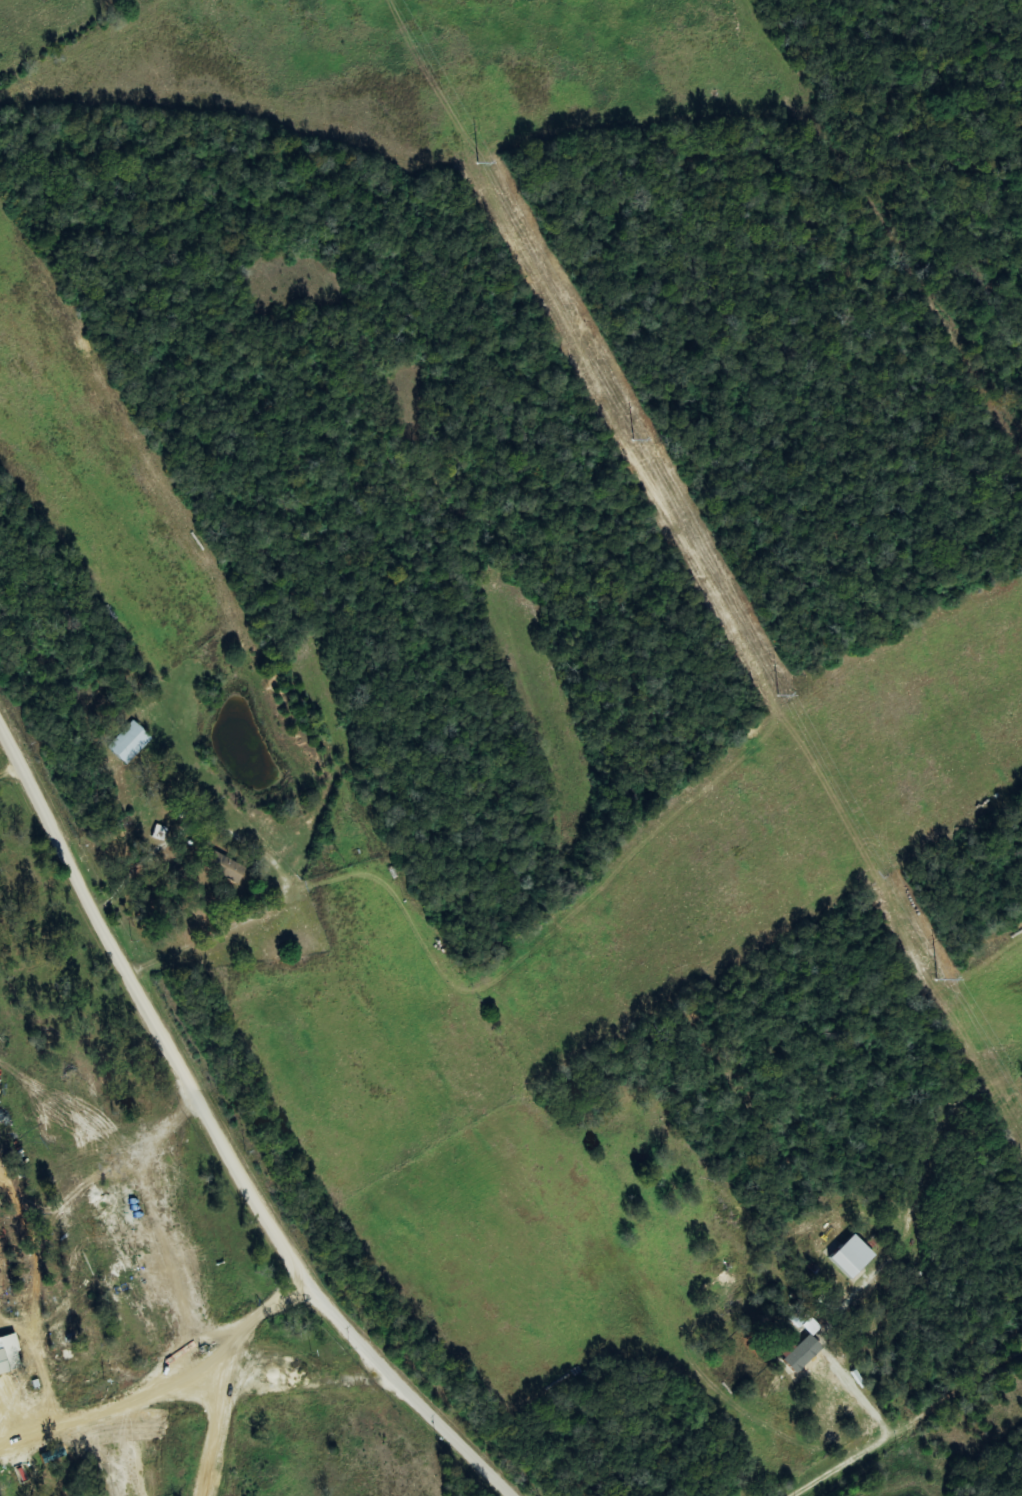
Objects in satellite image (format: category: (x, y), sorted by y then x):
power tower: (475, 162)
power tower: (632, 438)
power tower: (776, 693)
building: (128, 743)
power tower: (936, 978)
road: (220, 1134)
building: (856, 1258)
building: (803, 1351)
building: (11, 1355)
road: (930, 1439)

